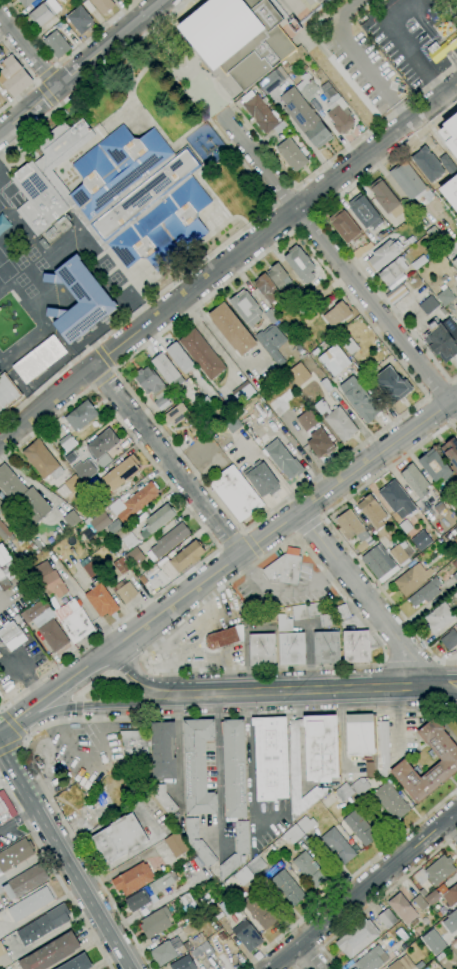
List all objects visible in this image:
building: (319, 1)
building: (25, 3)
building: (102, 5)
building: (88, 6)
road: (448, 10)
building: (44, 12)
building: (80, 20)
road: (425, 24)
building: (238, 38)
road: (403, 43)
building: (56, 44)
building: (443, 48)
road: (444, 48)
road: (29, 50)
building: (1, 51)
road: (356, 57)
road: (451, 58)
road: (64, 59)
road: (56, 66)
road: (81, 67)
building: (304, 67)
road: (47, 73)
building: (280, 73)
road: (93, 76)
building: (13, 77)
road: (33, 77)
road: (38, 81)
building: (270, 82)
road: (38, 83)
building: (308, 88)
road: (47, 93)
road: (56, 105)
building: (316, 105)
road: (233, 107)
road: (198, 110)
road: (221, 112)
building: (259, 112)
building: (338, 112)
building: (305, 118)
building: (280, 126)
building: (449, 132)
building: (292, 155)
road: (333, 159)
building: (427, 164)
building: (45, 178)
building: (55, 182)
building: (410, 183)
building: (450, 192)
building: (141, 197)
building: (385, 198)
road: (306, 201)
building: (365, 212)
road: (282, 220)
road: (306, 221)
building: (345, 226)
road: (330, 231)
building: (434, 234)
building: (381, 235)
building: (361, 250)
road: (454, 251)
building: (382, 256)
road: (226, 260)
road: (338, 262)
building: (418, 262)
building: (455, 263)
building: (300, 264)
building: (392, 271)
building: (278, 276)
road: (179, 279)
building: (265, 288)
building: (396, 293)
building: (445, 296)
building: (79, 300)
building: (428, 305)
building: (245, 308)
building: (337, 314)
building: (271, 316)
building: (232, 329)
road: (218, 335)
road: (209, 339)
building: (442, 339)
building: (350, 346)
road: (95, 347)
building: (270, 349)
building: (300, 351)
building: (202, 354)
road: (104, 357)
building: (180, 358)
building: (39, 359)
building: (334, 360)
road: (113, 368)
building: (167, 370)
road: (112, 371)
building: (298, 374)
road: (102, 378)
building: (150, 382)
parking lot: (49, 384)
building: (327, 385)
building: (392, 385)
road: (93, 386)
road: (438, 389)
building: (243, 392)
building: (7, 393)
road: (424, 394)
building: (359, 399)
building: (162, 402)
building: (208, 404)
building: (202, 406)
road: (437, 411)
building: (176, 414)
building: (81, 415)
building: (307, 421)
building: (337, 421)
building: (232, 423)
road: (455, 423)
building: (194, 427)
building: (67, 442)
building: (320, 443)
building: (102, 447)
building: (451, 451)
building: (71, 457)
building: (42, 459)
road: (166, 459)
building: (283, 460)
building: (435, 466)
building: (85, 469)
building: (101, 473)
building: (121, 473)
building: (262, 479)
building: (415, 481)
building: (69, 486)
building: (236, 493)
building: (23, 496)
building: (397, 499)
building: (134, 502)
building: (1, 505)
building: (440, 508)
building: (373, 514)
building: (71, 518)
building: (157, 520)
road: (284, 522)
building: (96, 525)
building: (350, 526)
building: (406, 526)
road: (204, 528)
building: (455, 528)
road: (334, 531)
building: (4, 532)
building: (123, 532)
road: (241, 532)
road: (243, 533)
road: (230, 540)
building: (421, 540)
building: (168, 541)
building: (454, 543)
road: (252, 544)
building: (40, 546)
building: (362, 546)
road: (221, 547)
building: (34, 551)
building: (399, 553)
building: (3, 556)
building: (135, 556)
road: (261, 556)
building: (39, 557)
building: (182, 559)
building: (18, 563)
building: (379, 563)
building: (455, 565)
building: (121, 566)
building: (89, 567)
building: (283, 569)
building: (1, 574)
building: (455, 577)
building: (50, 579)
building: (413, 579)
building: (5, 584)
building: (126, 592)
building: (425, 593)
road: (367, 595)
building: (101, 600)
road: (0, 602)
building: (56, 604)
building: (34, 610)
building: (299, 612)
building: (341, 612)
building: (319, 614)
building: (17, 618)
building: (268, 618)
building: (439, 618)
building: (75, 621)
road: (178, 623)
building: (283, 623)
building: (9, 633)
building: (53, 635)
building: (222, 638)
building: (449, 640)
building: (356, 646)
building: (326, 647)
building: (262, 649)
building: (291, 649)
road: (139, 659)
parking lot: (19, 661)
road: (128, 665)
road: (23, 671)
road: (117, 673)
road: (109, 675)
road: (72, 678)
road: (436, 681)
road: (146, 682)
road: (89, 685)
road: (304, 690)
road: (437, 692)
road: (78, 699)
road: (112, 703)
road: (77, 708)
road: (1, 711)
road: (77, 718)
road: (107, 719)
road: (16, 720)
road: (395, 721)
road: (12, 725)
road: (25, 738)
road: (23, 742)
building: (368, 742)
road: (10, 747)
building: (136, 749)
building: (163, 750)
building: (270, 758)
building: (312, 759)
building: (448, 760)
building: (197, 767)
road: (248, 767)
building: (234, 769)
road: (218, 771)
building: (149, 782)
building: (360, 786)
building: (343, 792)
road: (455, 794)
road: (456, 796)
building: (163, 798)
building: (390, 801)
building: (4, 813)
road: (454, 818)
road: (19, 819)
building: (306, 824)
building: (359, 827)
parking lot: (10, 831)
building: (292, 834)
building: (119, 838)
building: (198, 842)
building: (176, 844)
building: (338, 846)
building: (236, 850)
building: (15, 854)
road: (65, 855)
building: (256, 864)
building: (310, 869)
building: (439, 870)
road: (56, 875)
building: (239, 877)
building: (133, 879)
road: (350, 879)
building: (26, 881)
building: (162, 882)
building: (288, 888)
road: (362, 889)
building: (450, 896)
building: (432, 897)
road: (378, 898)
building: (137, 900)
building: (186, 900)
building: (420, 902)
building: (30, 904)
building: (226, 907)
building: (402, 909)
building: (259, 911)
building: (453, 918)
building: (387, 919)
building: (155, 922)
building: (44, 924)
building: (247, 936)
building: (384, 937)
building: (357, 938)
building: (196, 940)
building: (434, 942)
building: (404, 946)
building: (201, 951)
building: (51, 953)
building: (163, 953)
road: (306, 957)
building: (440, 957)
road: (306, 958)
building: (4, 959)
building: (372, 959)
building: (77, 963)
building: (402, 963)
building: (456, 963)

